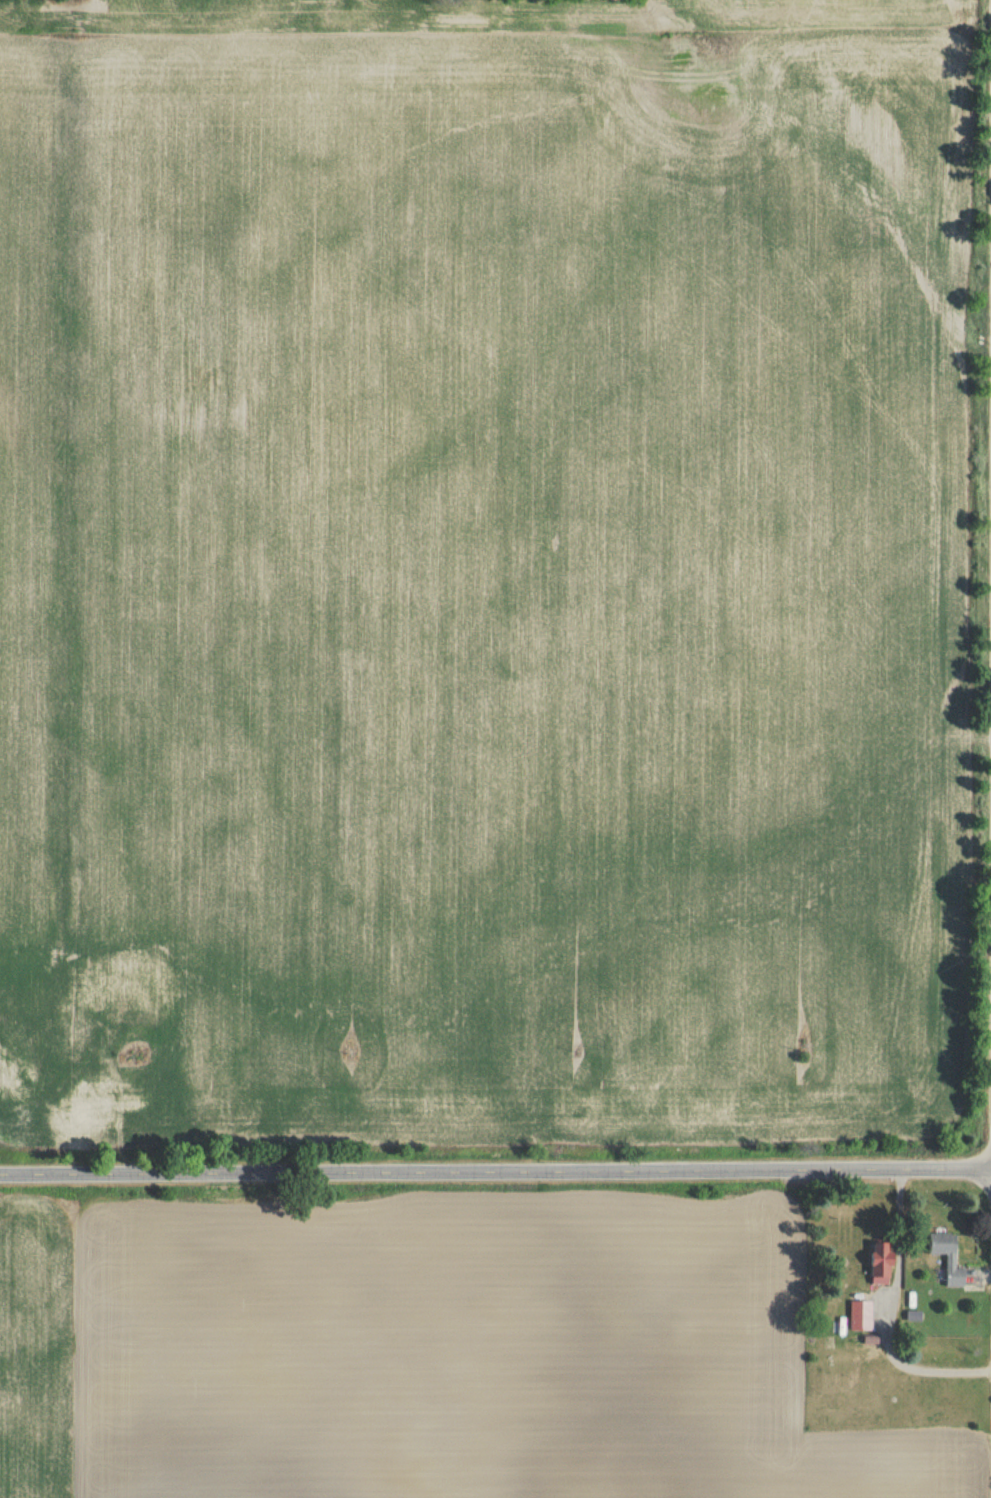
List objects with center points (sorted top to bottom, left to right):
building: (126, 1017)
building: (28, 1019)
building: (74, 1037)
building: (8, 1060)
road: (495, 1173)
building: (944, 1260)
building: (875, 1267)
road: (883, 1316)
building: (858, 1319)

